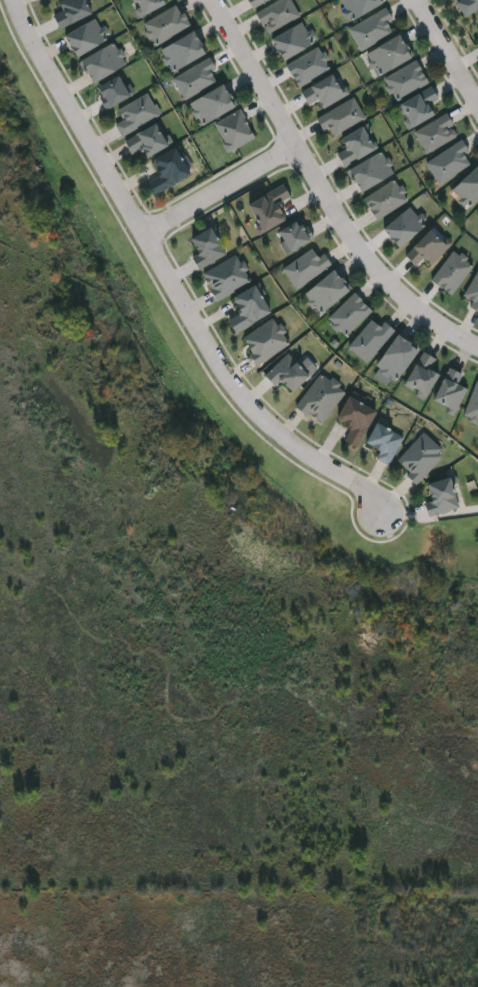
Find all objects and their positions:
building: (256, 2)
building: (147, 6)
building: (360, 6)
building: (467, 6)
building: (72, 12)
building: (278, 14)
building: (165, 24)
building: (373, 28)
building: (86, 37)
building: (293, 41)
building: (182, 51)
road: (447, 52)
building: (390, 54)
building: (102, 62)
building: (309, 66)
building: (195, 79)
building: (407, 80)
building: (326, 91)
building: (114, 92)
building: (211, 104)
building: (419, 106)
building: (136, 114)
building: (343, 117)
building: (234, 130)
building: (438, 133)
building: (150, 141)
building: (356, 146)
building: (451, 163)
building: (168, 171)
building: (372, 171)
building: (469, 187)
road: (325, 189)
road: (219, 190)
building: (387, 199)
building: (270, 209)
building: (404, 227)
building: (294, 235)
building: (206, 249)
building: (428, 249)
building: (305, 268)
building: (453, 272)
building: (227, 277)
road: (168, 282)
building: (328, 292)
building: (474, 293)
building: (247, 309)
building: (350, 315)
building: (371, 339)
building: (266, 341)
building: (397, 358)
building: (286, 373)
building: (423, 376)
building: (451, 392)
building: (322, 398)
building: (473, 407)
building: (355, 420)
building: (385, 442)
building: (421, 457)
building: (441, 497)

